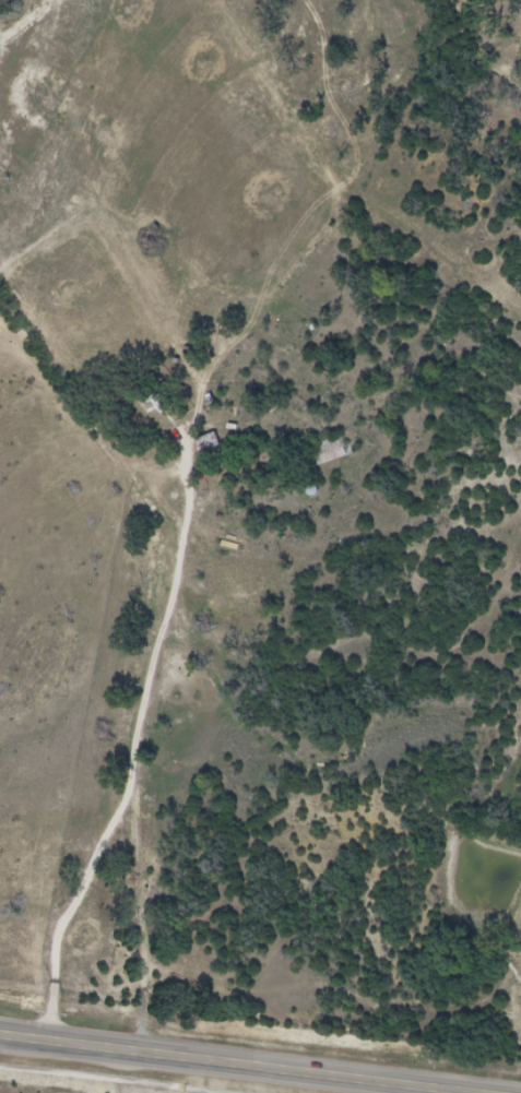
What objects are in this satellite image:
building: (209, 447)
building: (328, 452)
road: (363, 608)
road: (139, 745)
road: (217, 1065)

